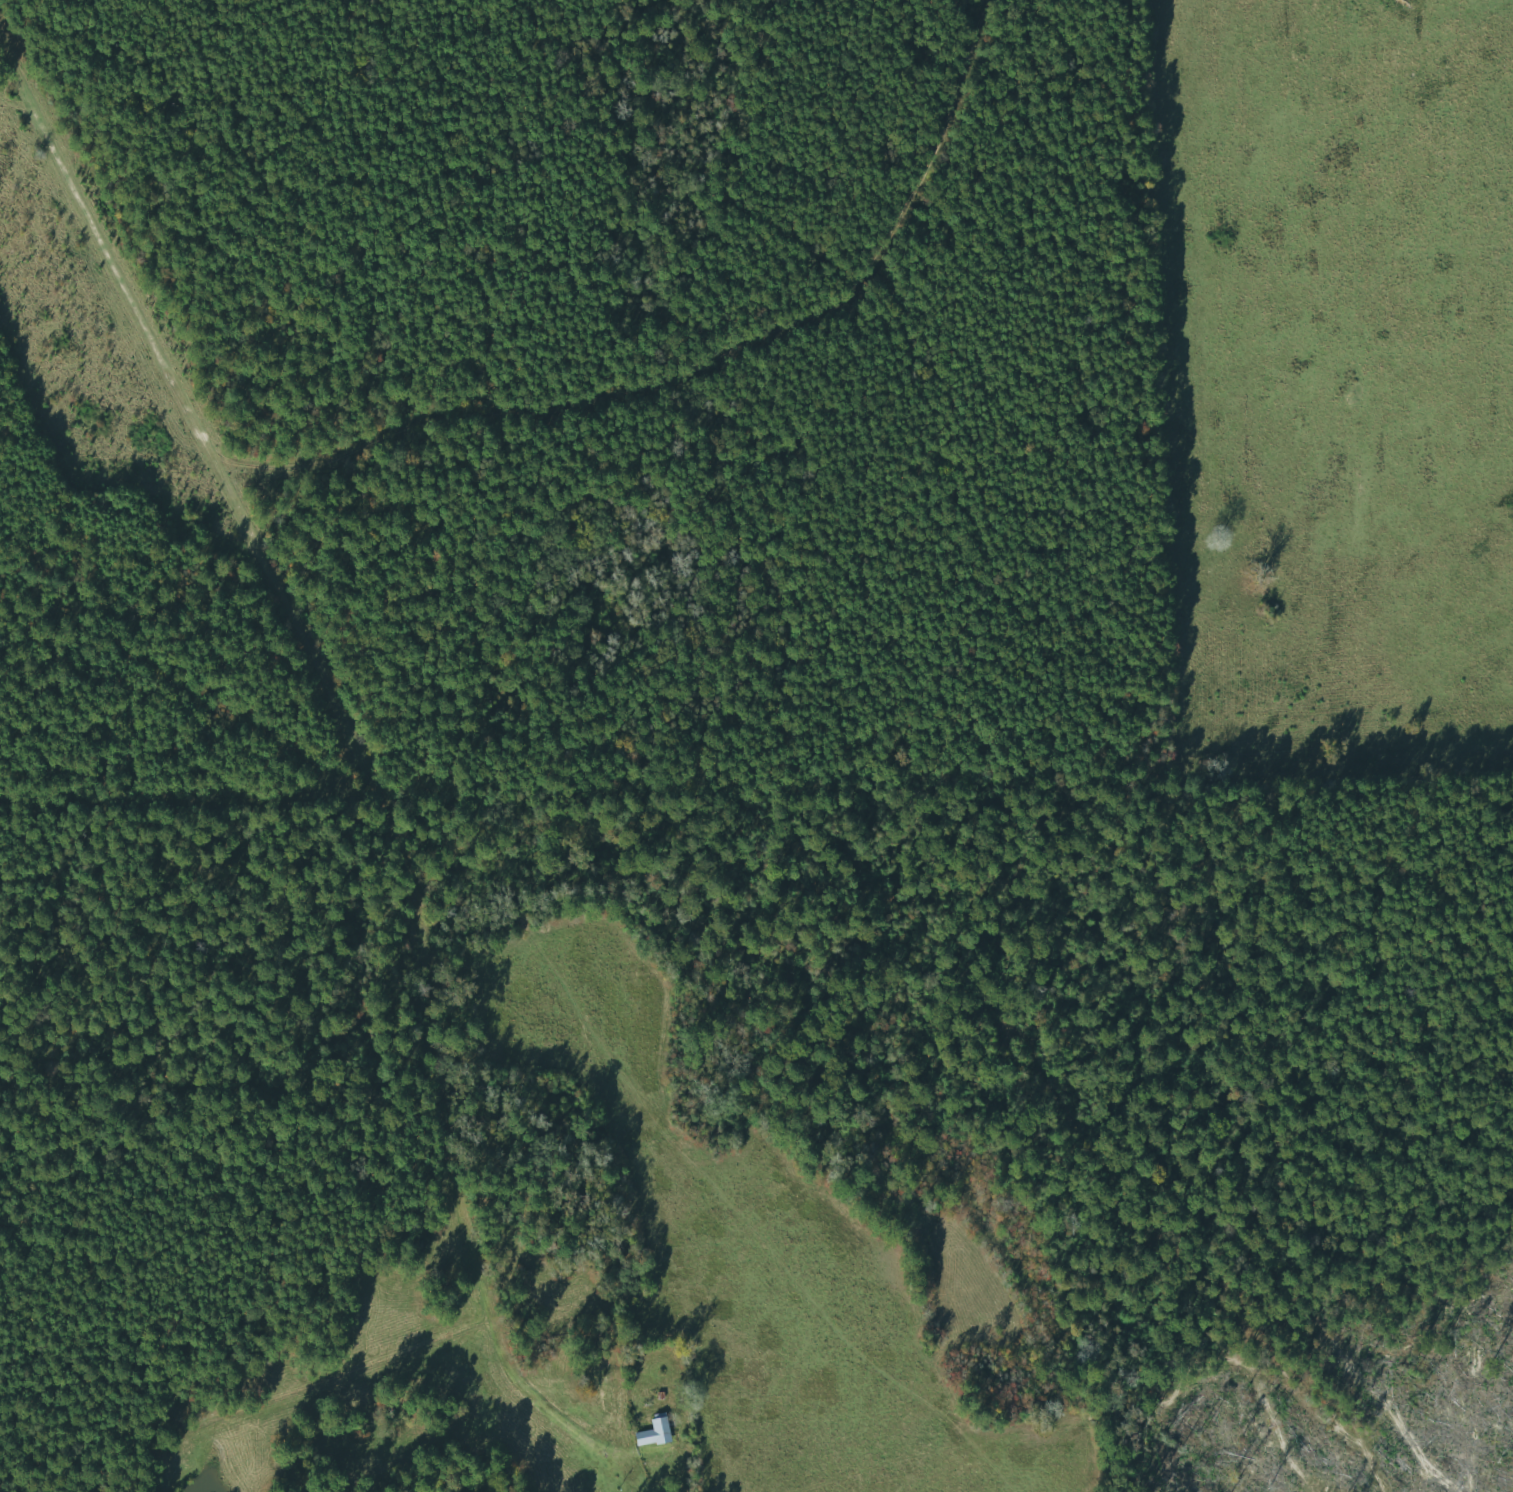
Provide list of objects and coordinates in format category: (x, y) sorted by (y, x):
road: (355, 723)
building: (652, 1432)

